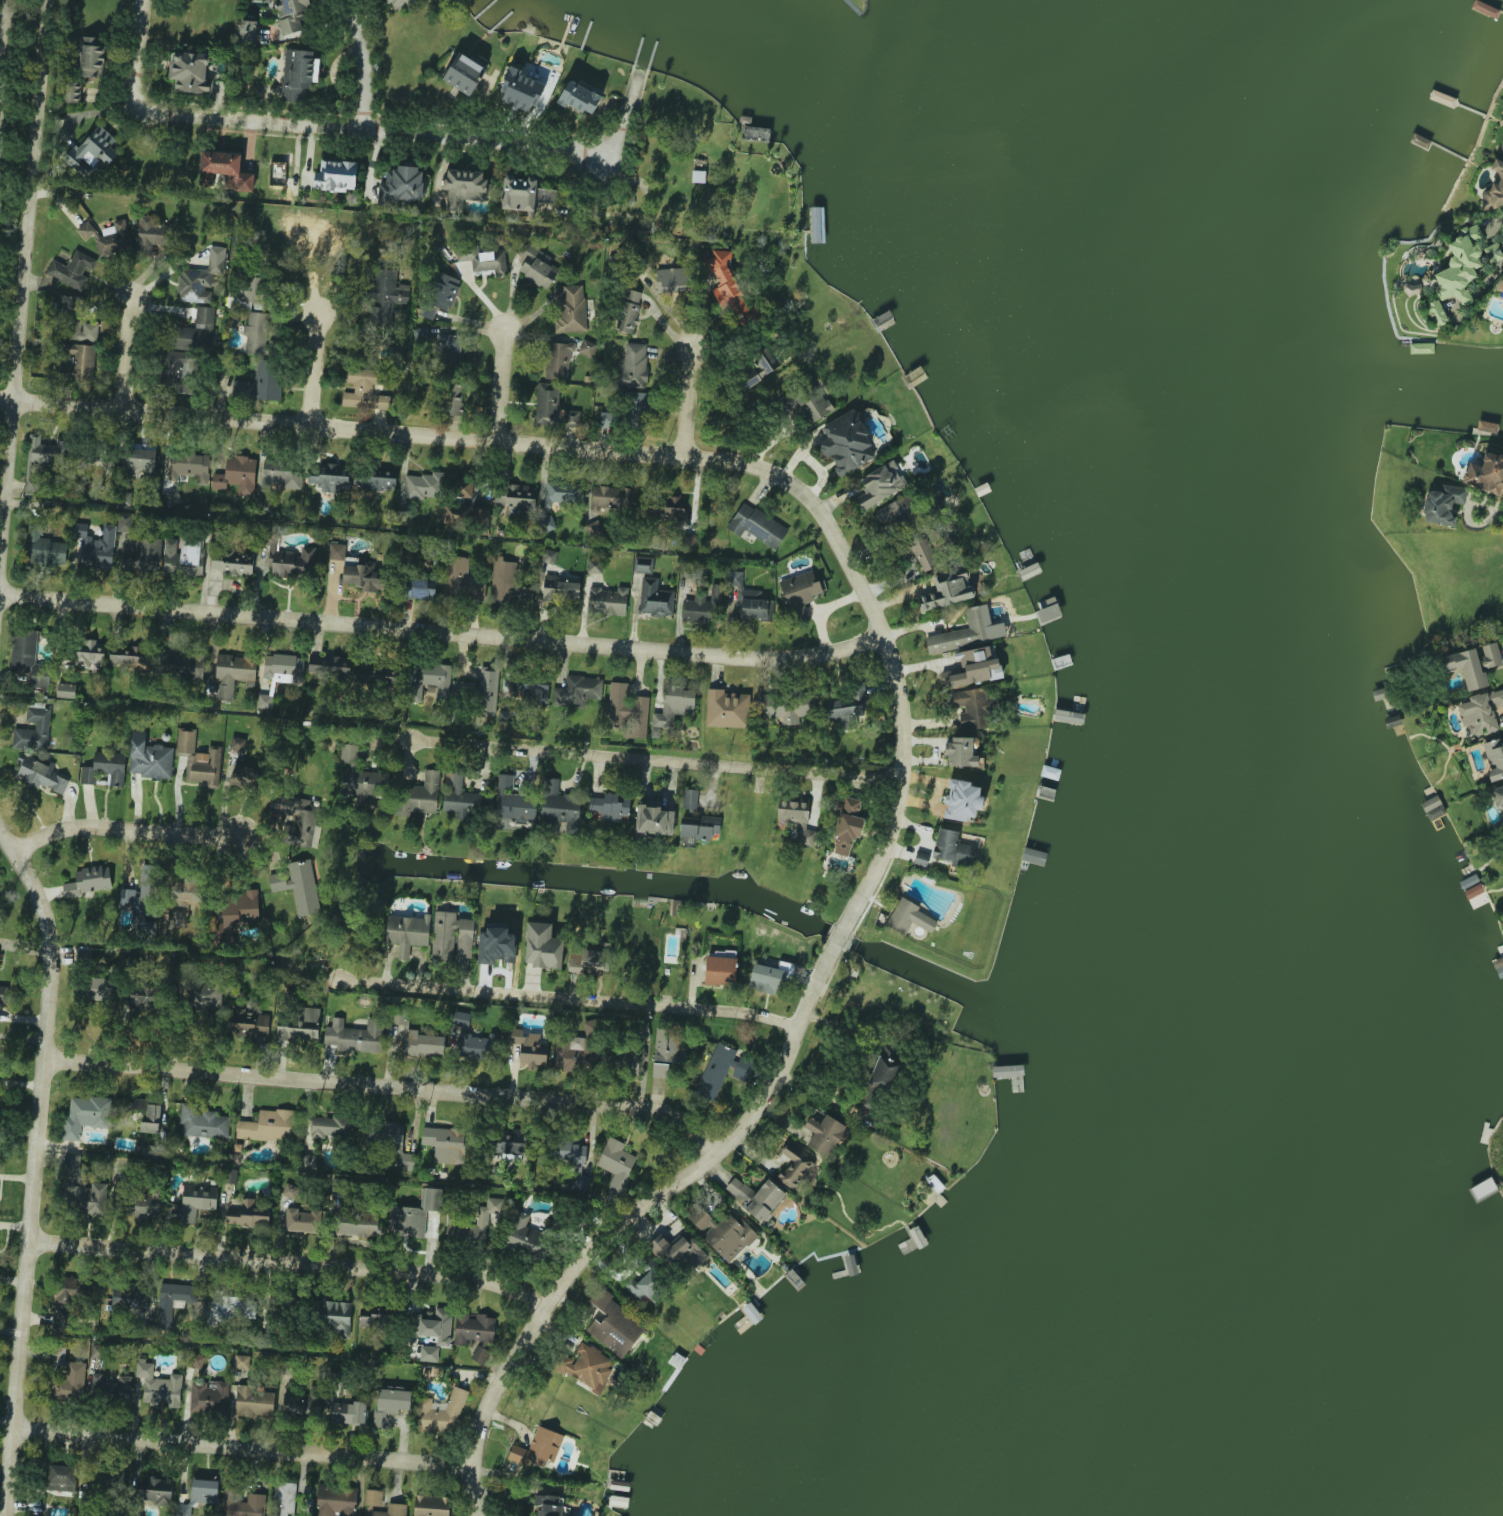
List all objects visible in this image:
building: (400, 4)
building: (292, 14)
building: (247, 30)
road: (3, 44)
road: (139, 56)
building: (92, 58)
road: (363, 66)
building: (190, 72)
building: (464, 74)
building: (521, 89)
building: (73, 92)
building: (580, 97)
road: (372, 135)
building: (92, 150)
building: (1502, 152)
building: (224, 170)
building: (336, 175)
building: (403, 185)
building: (463, 187)
building: (1493, 190)
building: (523, 193)
building: (86, 230)
building: (151, 234)
building: (116, 239)
building: (484, 260)
building: (534, 265)
building: (1466, 265)
building: (72, 269)
building: (200, 278)
building: (672, 279)
road: (25, 284)
building: (729, 288)
building: (1502, 291)
building: (245, 293)
building: (441, 294)
building: (387, 296)
building: (571, 310)
building: (626, 312)
building: (198, 328)
building: (83, 332)
building: (256, 333)
building: (421, 333)
building: (449, 350)
road: (126, 354)
building: (558, 360)
building: (75, 362)
building: (634, 364)
building: (173, 370)
road: (313, 370)
building: (260, 382)
road: (500, 385)
building: (364, 389)
building: (454, 396)
road: (689, 401)
building: (806, 401)
building: (547, 403)
building: (635, 410)
building: (572, 417)
building: (606, 418)
building: (847, 443)
building: (45, 451)
road: (636, 451)
building: (138, 460)
building: (189, 465)
building: (282, 473)
building: (1487, 474)
building: (237, 475)
building: (330, 477)
building: (374, 478)
building: (880, 485)
building: (424, 486)
building: (463, 488)
building: (562, 492)
building: (611, 497)
building: (1442, 504)
building: (264, 506)
building: (666, 508)
road: (1501, 508)
building: (896, 512)
road: (1466, 515)
building: (124, 521)
building: (546, 521)
building: (757, 525)
building: (688, 540)
building: (96, 546)
building: (45, 547)
building: (336, 551)
building: (923, 555)
building: (142, 556)
building: (184, 556)
building: (549, 556)
building: (288, 560)
building: (236, 562)
building: (642, 565)
building: (594, 566)
building: (359, 575)
building: (461, 580)
building: (505, 581)
building: (420, 589)
building: (947, 589)
building: (562, 592)
building: (800, 592)
building: (655, 598)
building: (750, 598)
building: (608, 600)
building: (702, 605)
road: (442, 633)
building: (963, 633)
building: (88, 651)
building: (128, 656)
building: (28, 658)
building: (1472, 664)
building: (180, 665)
building: (329, 666)
building: (973, 667)
building: (283, 668)
building: (234, 673)
building: (432, 677)
building: (377, 678)
building: (583, 688)
building: (66, 690)
building: (531, 691)
building: (486, 692)
building: (673, 706)
building: (847, 707)
building: (970, 707)
building: (726, 709)
building: (627, 710)
building: (1480, 712)
building: (33, 731)
building: (237, 743)
building: (961, 752)
building: (149, 758)
building: (1494, 758)
building: (198, 759)
road: (657, 761)
building: (40, 773)
building: (247, 777)
building: (359, 777)
building: (505, 781)
building: (518, 782)
building: (423, 793)
building: (1497, 795)
building: (689, 799)
building: (962, 800)
building: (559, 804)
building: (610, 806)
building: (518, 807)
building: (1433, 808)
building: (654, 818)
building: (796, 819)
building: (297, 820)
building: (699, 827)
building: (848, 827)
road: (124, 829)
building: (952, 848)
building: (88, 882)
building: (299, 887)
building: (1473, 890)
building: (187, 891)
building: (127, 896)
building: (235, 916)
building: (909, 917)
building: (407, 932)
building: (451, 936)
road: (850, 937)
building: (496, 945)
building: (543, 946)
building: (85, 953)
building: (575, 960)
building: (594, 960)
building: (720, 970)
building: (770, 977)
building: (96, 988)
building: (3, 994)
building: (199, 994)
road: (572, 1004)
building: (461, 1019)
building: (298, 1023)
building: (247, 1024)
building: (357, 1035)
building: (418, 1039)
building: (477, 1045)
building: (666, 1045)
building: (529, 1046)
building: (622, 1061)
building: (744, 1067)
building: (885, 1069)
building: (660, 1070)
building: (716, 1071)
road: (394, 1096)
building: (138, 1103)
building: (82, 1116)
building: (151, 1118)
building: (202, 1122)
building: (268, 1126)
building: (331, 1126)
building: (824, 1134)
building: (390, 1141)
building: (446, 1144)
building: (510, 1145)
building: (150, 1148)
building: (573, 1160)
road: (43, 1162)
building: (616, 1163)
building: (795, 1166)
building: (231, 1176)
building: (82, 1188)
building: (290, 1191)
building: (756, 1197)
building: (196, 1201)
building: (149, 1205)
building: (247, 1213)
building: (414, 1214)
road: (632, 1219)
building: (301, 1220)
building: (358, 1222)
building: (722, 1232)
building: (526, 1238)
building: (682, 1253)
road: (293, 1268)
building: (646, 1285)
building: (128, 1299)
building: (66, 1302)
building: (166, 1307)
building: (231, 1308)
building: (331, 1316)
building: (375, 1317)
building: (432, 1325)
building: (614, 1325)
building: (473, 1328)
building: (429, 1353)
building: (480, 1354)
building: (197, 1360)
building: (241, 1361)
building: (585, 1366)
building: (70, 1383)
building: (159, 1385)
building: (115, 1388)
building: (209, 1397)
building: (253, 1401)
building: (299, 1404)
building: (390, 1405)
building: (348, 1412)
building: (441, 1412)
building: (539, 1448)
road: (245, 1452)
building: (61, 1478)
building: (111, 1481)
building: (202, 1489)
building: (156, 1490)
building: (336, 1501)
building: (284, 1503)
building: (244, 1504)
building: (381, 1505)
building: (431, 1505)
building: (549, 1505)

